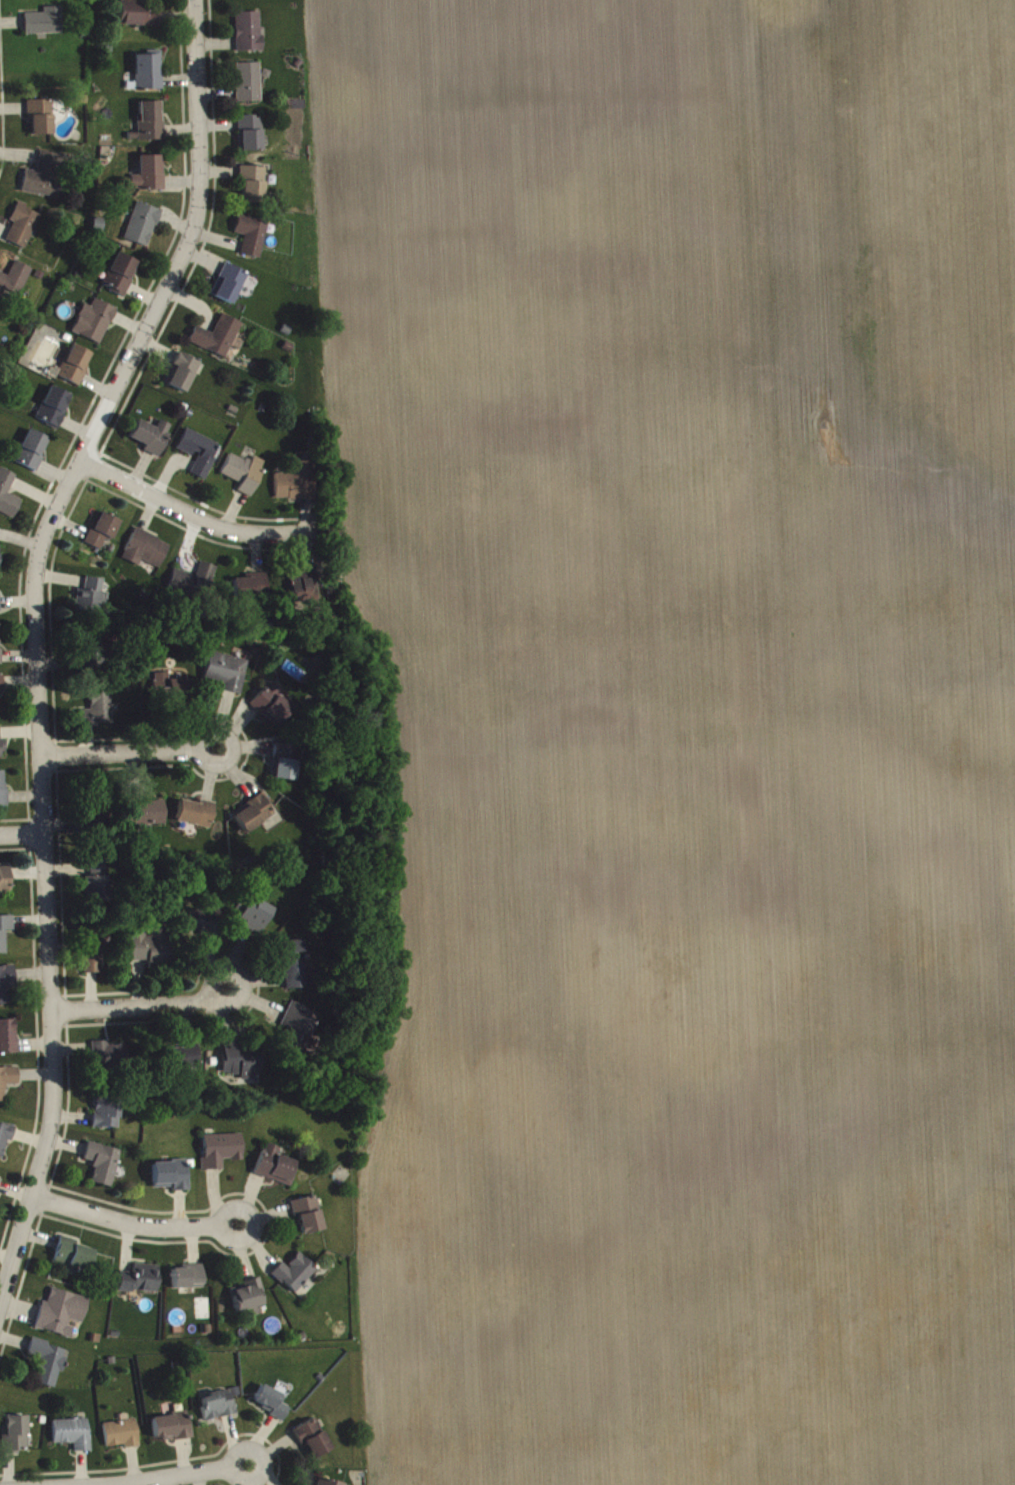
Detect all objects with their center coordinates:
building: (253, 0)
building: (140, 18)
building: (46, 26)
building: (250, 36)
building: (149, 77)
building: (249, 87)
building: (42, 121)
building: (152, 125)
building: (251, 138)
building: (150, 179)
building: (47, 180)
building: (254, 189)
building: (143, 229)
building: (24, 230)
building: (254, 239)
building: (122, 279)
building: (15, 286)
building: (230, 289)
building: (96, 325)
building: (218, 341)
building: (76, 369)
building: (183, 377)
building: (55, 411)
building: (152, 441)
building: (33, 455)
building: (200, 457)
building: (245, 477)
building: (298, 487)
building: (8, 499)
road: (190, 514)
building: (104, 535)
building: (147, 554)
building: (1, 558)
building: (194, 585)
building: (304, 590)
building: (253, 591)
building: (93, 601)
building: (0, 608)
road: (39, 639)
building: (1, 650)
building: (226, 677)
building: (2, 688)
building: (171, 691)
building: (273, 710)
building: (100, 712)
building: (2, 752)
road: (132, 755)
building: (286, 767)
building: (3, 793)
building: (147, 815)
building: (197, 818)
building: (254, 818)
road: (25, 840)
building: (5, 885)
building: (98, 888)
building: (255, 919)
building: (191, 926)
building: (5, 937)
building: (152, 950)
building: (93, 958)
building: (294, 969)
building: (7, 989)
road: (144, 1008)
building: (298, 1033)
building: (8, 1042)
building: (111, 1060)
building: (242, 1065)
building: (8, 1085)
building: (107, 1117)
building: (6, 1142)
building: (222, 1155)
building: (104, 1168)
building: (276, 1171)
building: (172, 1180)
building: (0, 1185)
building: (309, 1219)
road: (134, 1227)
building: (74, 1263)
building: (105, 1270)
building: (295, 1278)
building: (189, 1283)
building: (141, 1285)
building: (248, 1301)
building: (62, 1318)
building: (49, 1366)
building: (272, 1407)
building: (221, 1409)
building: (173, 1432)
building: (73, 1438)
building: (122, 1438)
building: (15, 1439)
building: (314, 1444)
road: (191, 1475)
building: (319, 1484)

